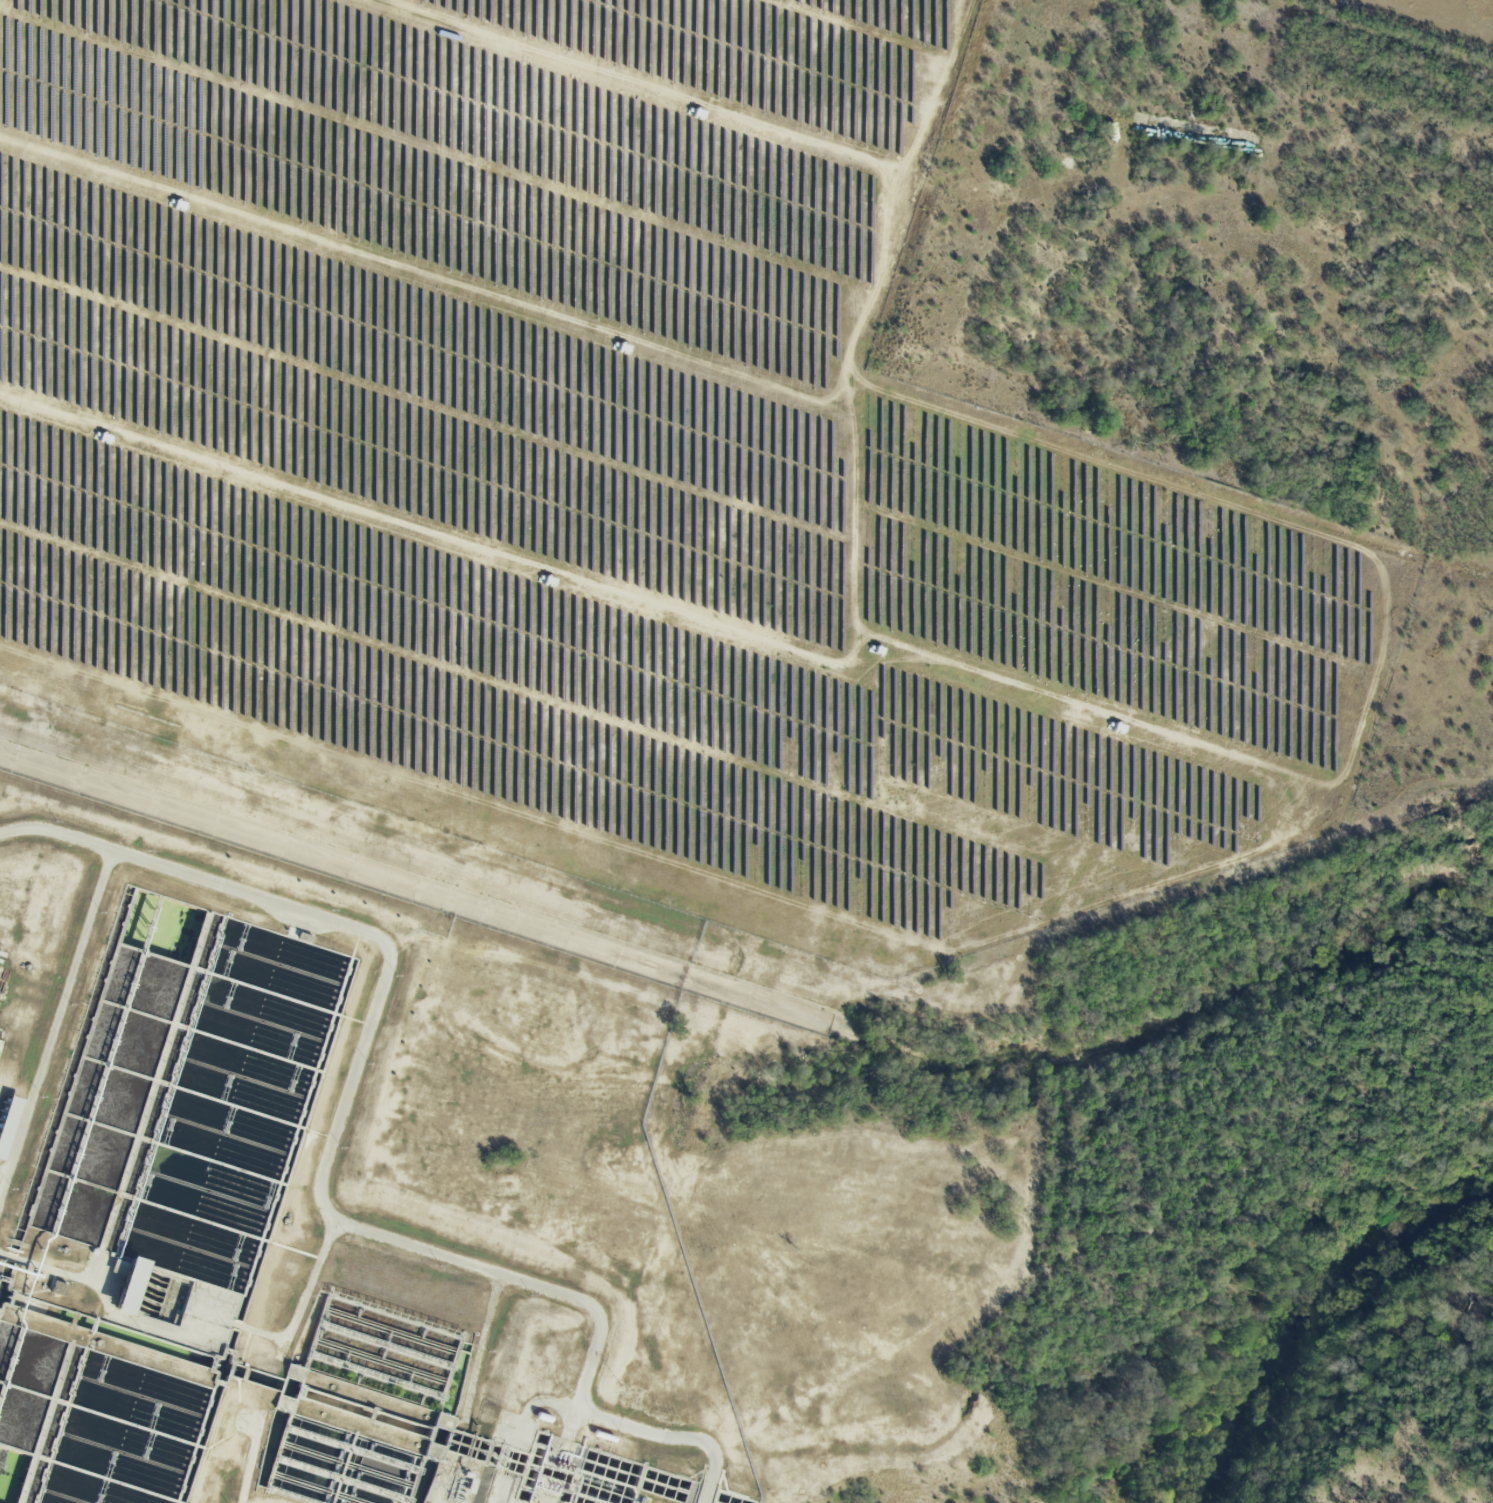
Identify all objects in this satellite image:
solar farm: (624, 475)
road: (60, 1011)
building: (9, 1124)
wastewater plant: (328, 1154)
road: (321, 1164)
building: (132, 1286)
building: (59, 1288)
river: (1326, 1321)
building: (668, 1407)

